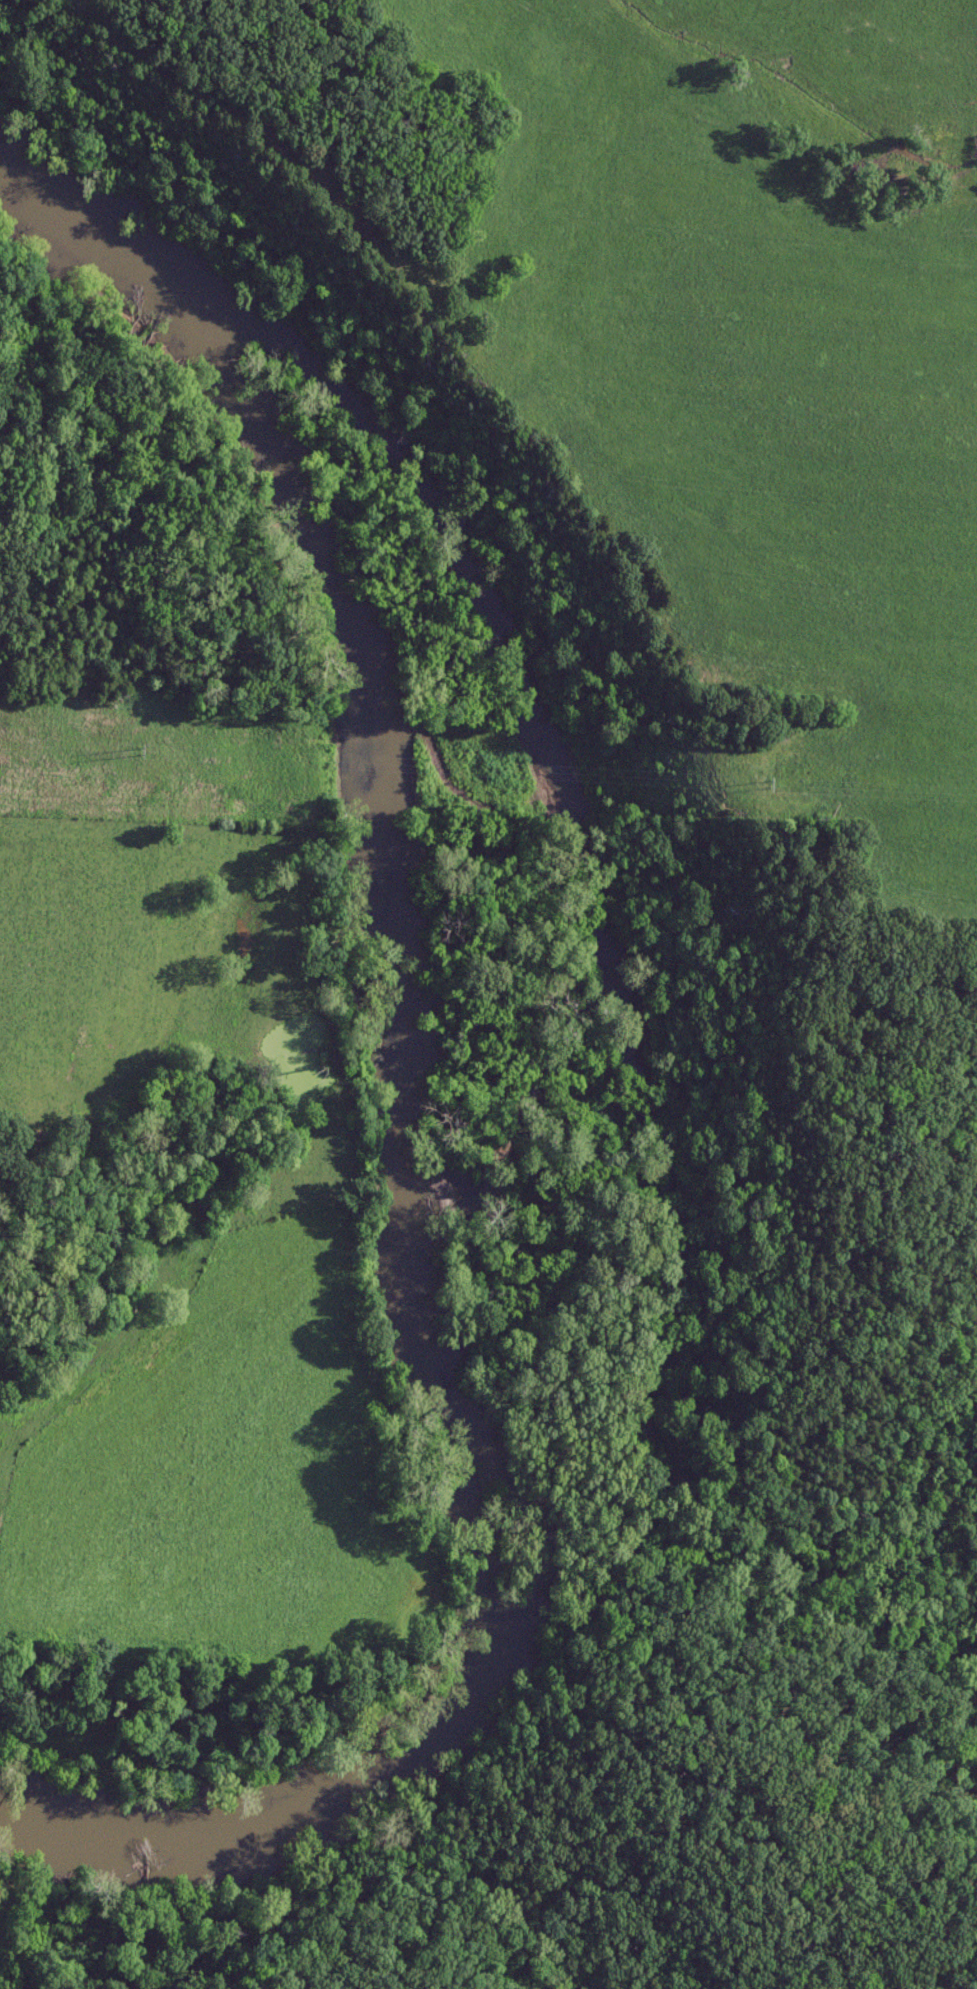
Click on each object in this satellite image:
road: (720, 163)
power tower: (134, 755)
power tower: (764, 786)

